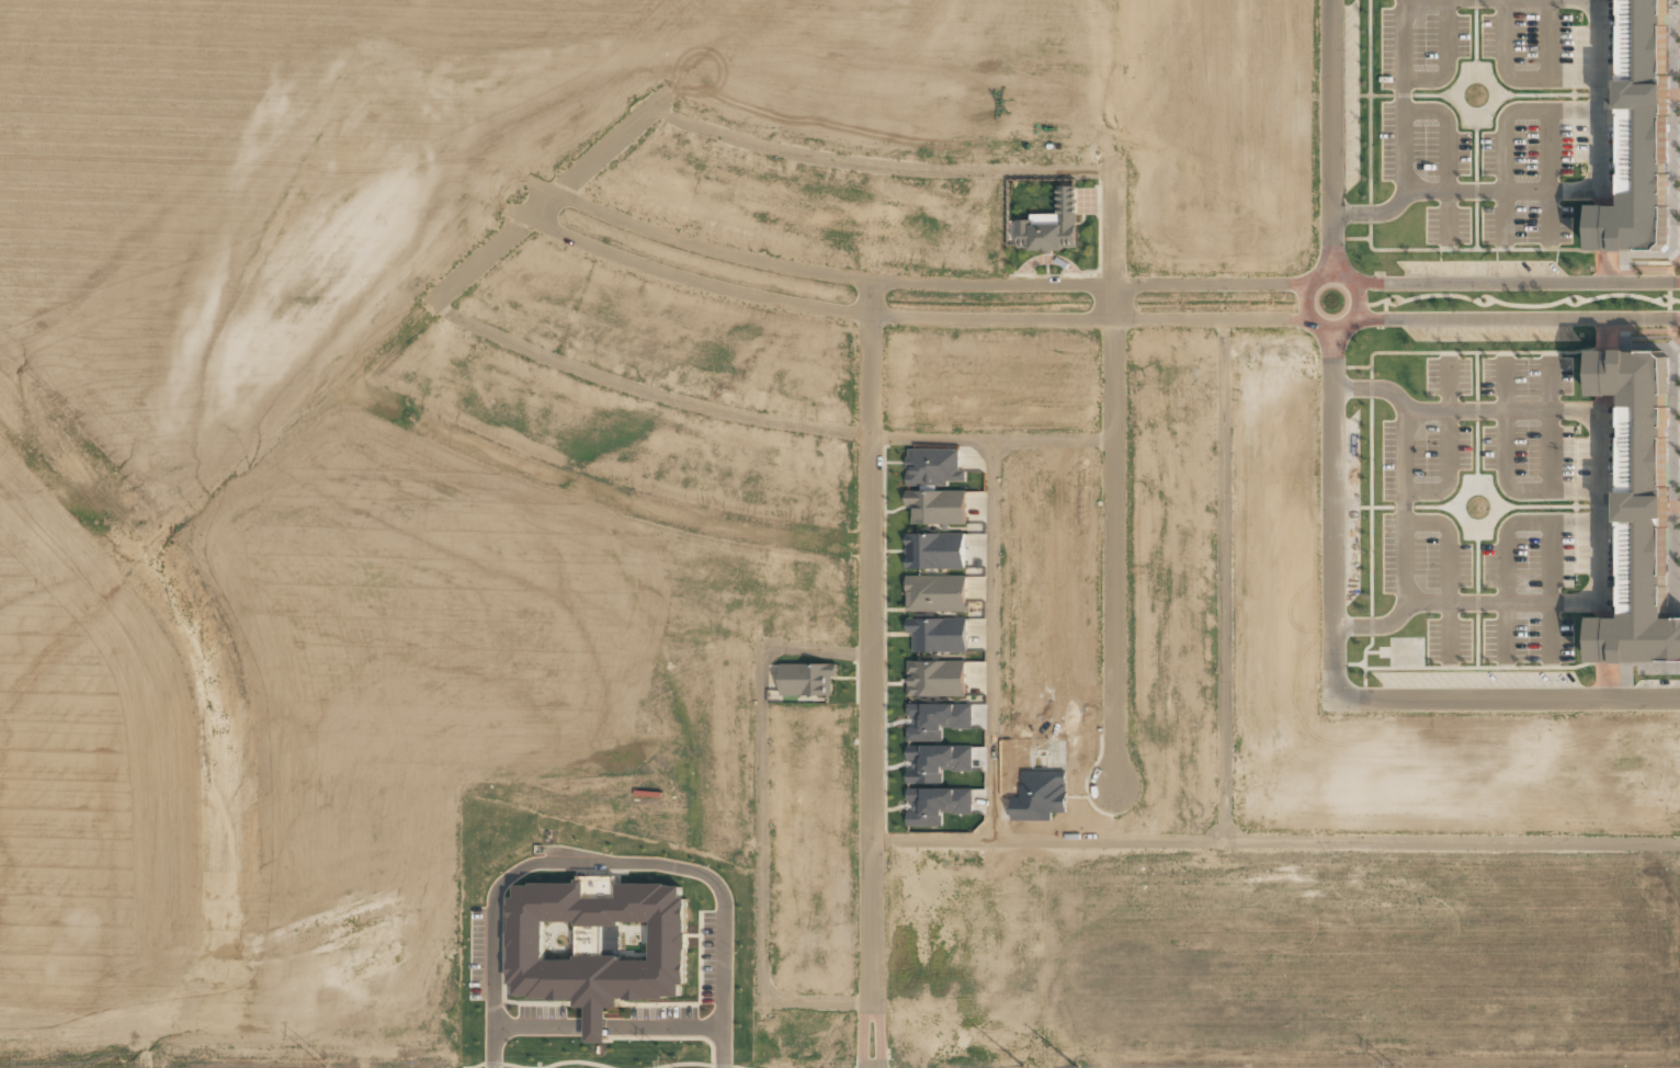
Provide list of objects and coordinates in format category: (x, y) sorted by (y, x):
road: (1446, 58)
road: (1514, 79)
road: (1599, 94)
road: (1404, 98)
road: (1503, 130)
road: (1448, 133)
road: (1331, 136)
building: (1639, 136)
road: (1548, 140)
road: (609, 143)
road: (875, 166)
road: (542, 204)
road: (1448, 214)
road: (1551, 215)
building: (1051, 225)
road: (929, 283)
road: (1513, 283)
road: (913, 317)
road: (1516, 318)
road: (1335, 329)
road: (342, 378)
road: (762, 419)
building: (933, 466)
road: (1112, 469)
road: (598, 492)
building: (938, 507)
building: (1639, 510)
road: (1333, 514)
building: (935, 550)
road: (1224, 579)
building: (937, 592)
building: (938, 634)
road: (991, 639)
road: (816, 650)
road: (873, 673)
building: (937, 678)
building: (807, 679)
road: (1507, 698)
building: (938, 719)
building: (938, 762)
building: (938, 804)
road: (761, 821)
road: (1276, 840)
building: (599, 944)
road: (817, 1001)
power tower: (325, 1063)
power tower: (700, 1064)
power tower: (1076, 1066)
power tower: (1393, 1066)

